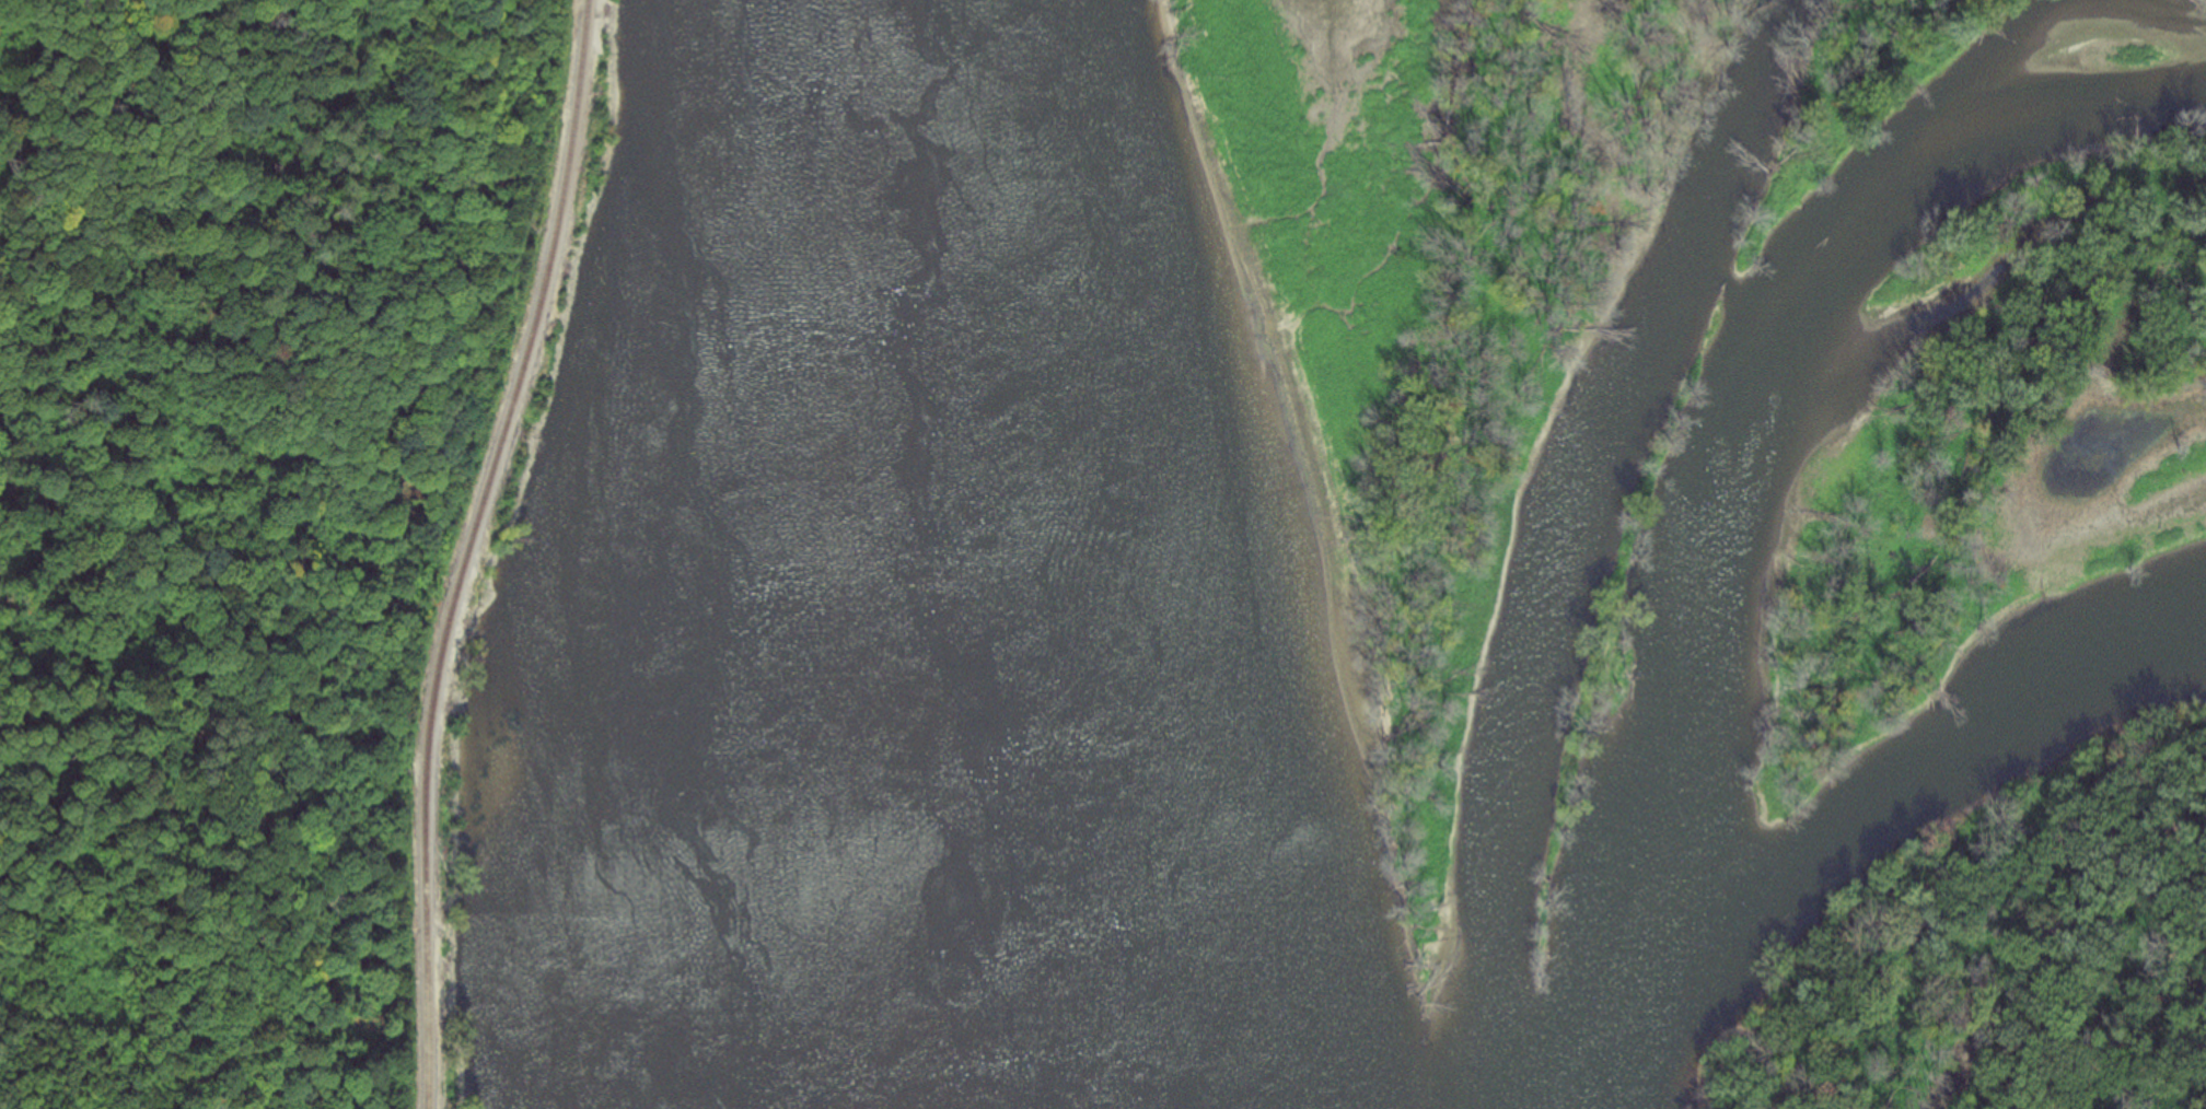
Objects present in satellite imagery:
railway: (466, 549)
river: (956, 560)

